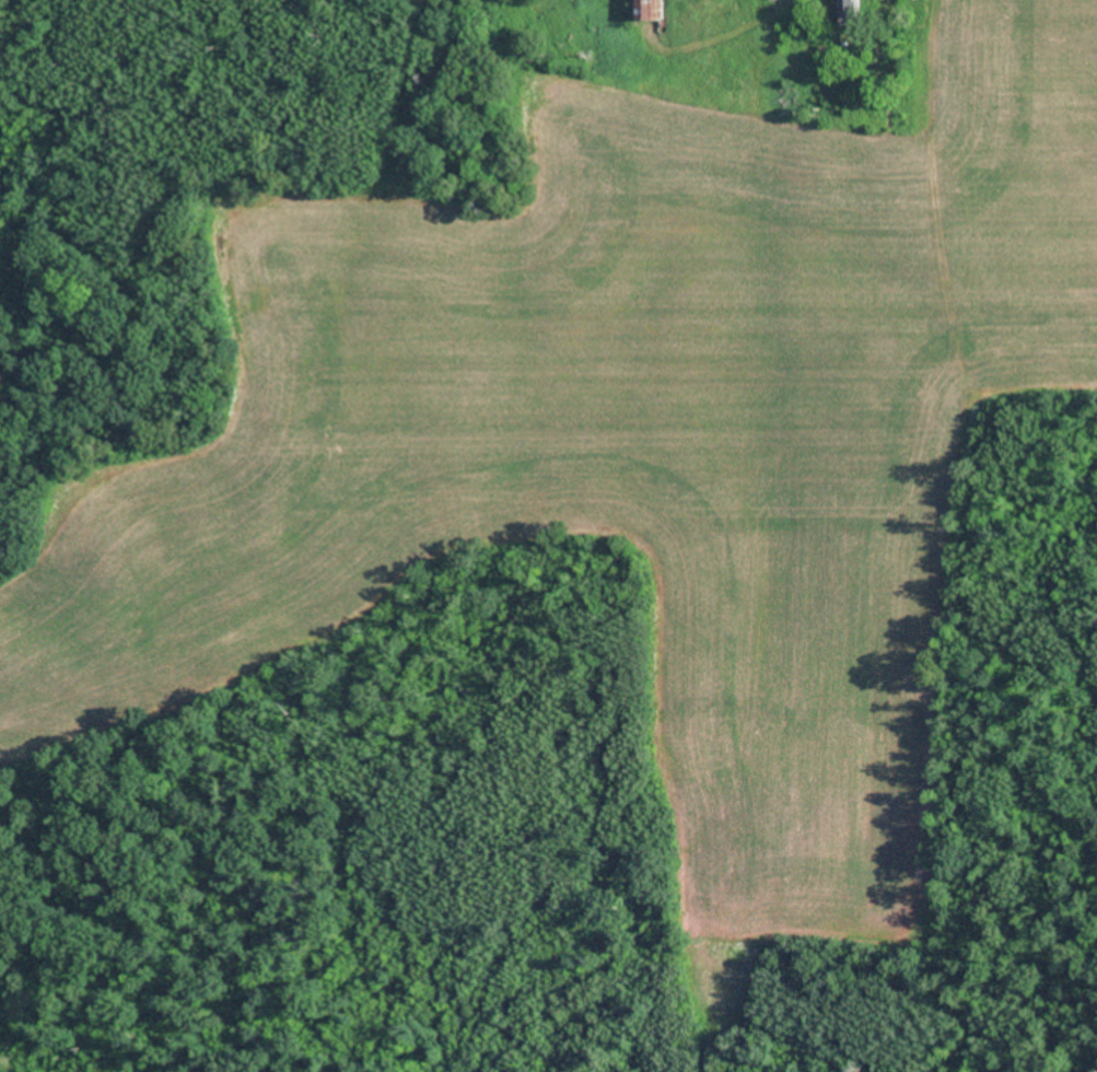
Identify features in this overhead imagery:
building: (848, 11)
building: (647, 12)

